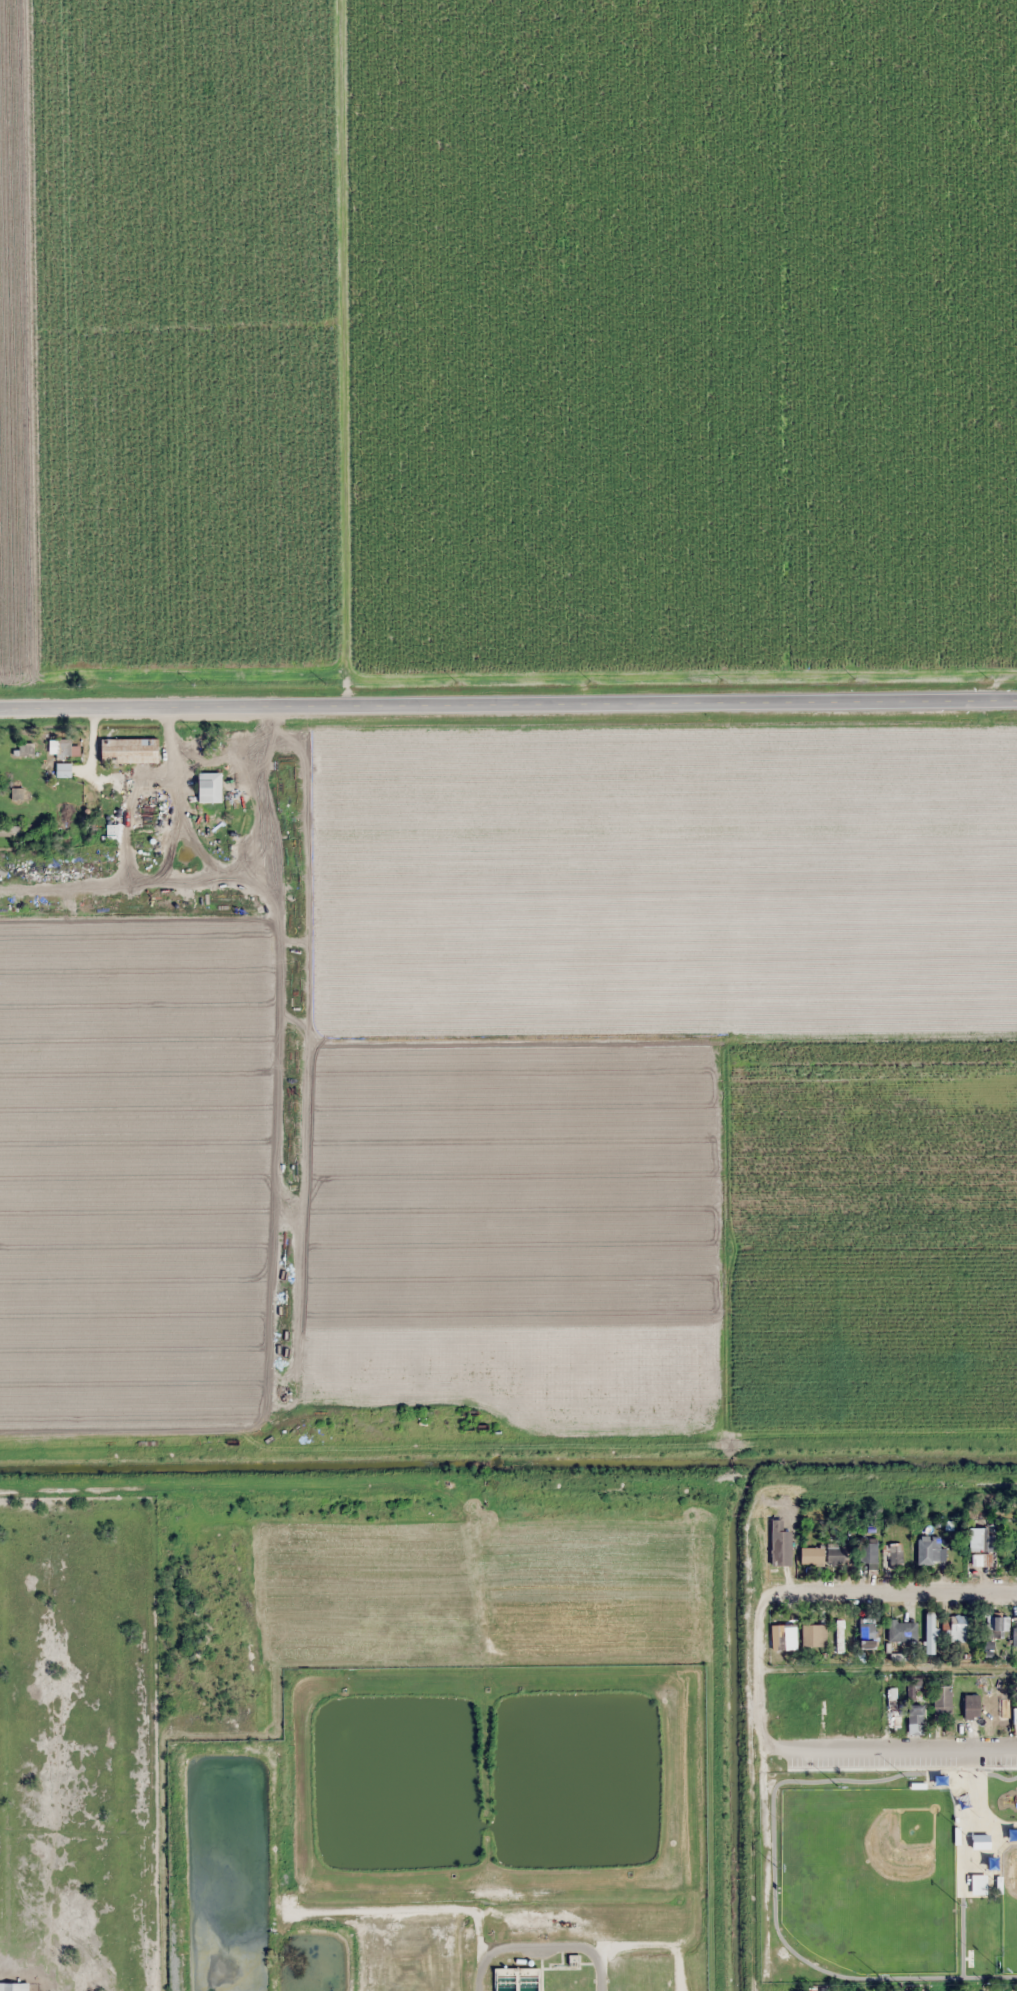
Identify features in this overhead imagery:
road: (508, 699)
building: (26, 748)
building: (60, 748)
building: (130, 751)
building: (64, 770)
building: (400, 1069)
building: (778, 1544)
building: (980, 1549)
building: (1016, 1550)
building: (929, 1551)
building: (820, 1555)
building: (867, 1555)
building: (892, 1556)
road: (891, 1592)
building: (994, 1624)
building: (955, 1628)
building: (901, 1630)
building: (1016, 1632)
building: (865, 1633)
building: (812, 1635)
building: (838, 1635)
building: (781, 1636)
building: (912, 1687)
building: (940, 1702)
building: (964, 1704)
building: (889, 1708)
building: (994, 1710)
building: (864, 1712)
building: (913, 1719)
road: (892, 1749)
park: (897, 1865)
building: (976, 1884)
building: (516, 1979)
building: (14, 1987)

